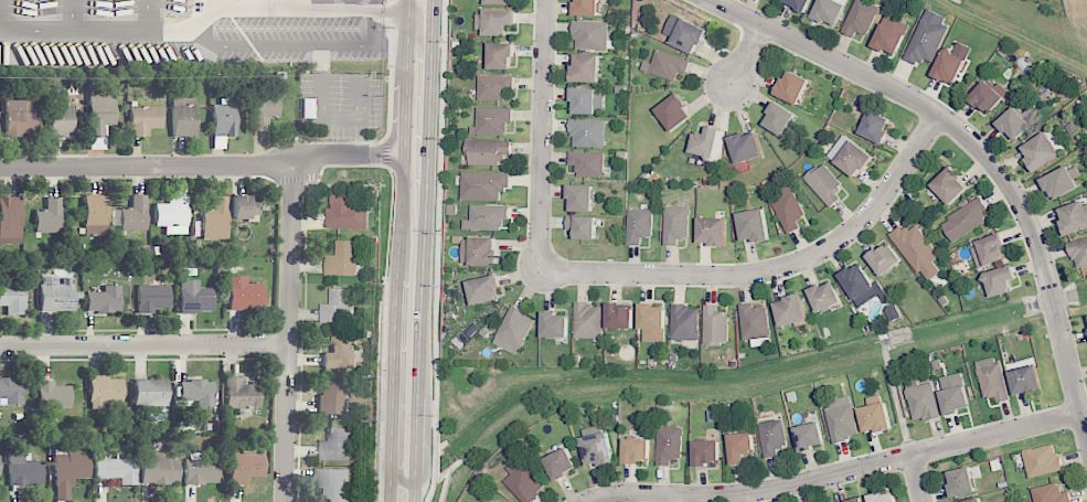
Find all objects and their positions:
building: (320, 1)
building: (501, 1)
building: (802, 4)
building: (588, 8)
road: (311, 10)
building: (831, 11)
building: (863, 17)
building: (497, 22)
road: (114, 30)
building: (685, 33)
building: (593, 34)
building: (893, 34)
road: (422, 36)
building: (929, 38)
road: (746, 54)
building: (502, 55)
building: (669, 66)
building: (951, 66)
road: (390, 67)
building: (588, 68)
building: (497, 87)
building: (795, 88)
building: (991, 96)
building: (587, 102)
building: (264, 110)
building: (100, 113)
building: (676, 113)
building: (21, 116)
building: (183, 117)
building: (143, 119)
building: (223, 119)
building: (781, 119)
building: (60, 120)
building: (492, 121)
building: (1016, 124)
building: (877, 127)
building: (589, 132)
road: (541, 136)
building: (708, 142)
building: (748, 148)
road: (386, 150)
road: (980, 150)
building: (489, 151)
building: (1044, 152)
building: (856, 158)
building: (589, 163)
road: (202, 167)
building: (1063, 182)
building: (824, 183)
building: (952, 185)
building: (484, 186)
building: (583, 197)
building: (244, 209)
building: (791, 210)
building: (347, 213)
building: (134, 214)
building: (95, 215)
building: (172, 215)
building: (49, 216)
building: (487, 218)
building: (967, 218)
building: (1075, 218)
building: (10, 220)
building: (214, 220)
building: (676, 225)
building: (640, 226)
building: (756, 226)
building: (71, 227)
building: (585, 227)
building: (714, 233)
building: (919, 249)
road: (398, 250)
road: (422, 250)
road: (437, 250)
building: (991, 250)
building: (486, 253)
building: (1080, 253)
building: (342, 258)
building: (887, 259)
road: (770, 269)
building: (1002, 280)
building: (860, 281)
building: (487, 290)
building: (56, 295)
building: (243, 295)
building: (12, 297)
building: (194, 297)
building: (152, 298)
building: (828, 298)
building: (104, 300)
building: (339, 307)
building: (793, 311)
building: (894, 312)
building: (1086, 316)
building: (620, 318)
building: (588, 322)
building: (756, 322)
building: (654, 323)
building: (688, 323)
building: (556, 325)
building: (716, 327)
building: (514, 329)
road: (382, 333)
road: (291, 334)
road: (146, 348)
building: (341, 353)
building: (994, 378)
building: (1029, 378)
building: (10, 392)
building: (104, 392)
building: (196, 392)
building: (150, 393)
building: (241, 394)
building: (53, 395)
building: (331, 397)
building: (958, 398)
building: (924, 400)
building: (877, 417)
building: (843, 423)
building: (811, 436)
building: (774, 437)
building: (338, 446)
building: (671, 446)
building: (599, 447)
building: (742, 447)
building: (639, 449)
building: (708, 452)
building: (1044, 461)
building: (563, 462)
building: (244, 466)
building: (117, 469)
building: (23, 470)
building: (159, 470)
building: (200, 470)
building: (68, 472)
road: (838, 472)
road: (396, 474)
road: (918, 478)
building: (523, 481)
building: (963, 482)
building: (333, 483)
building: (1051, 493)
building: (884, 496)
building: (857, 500)
building: (976, 500)
building: (493, 501)
building: (497, 501)
building: (500, 501)

